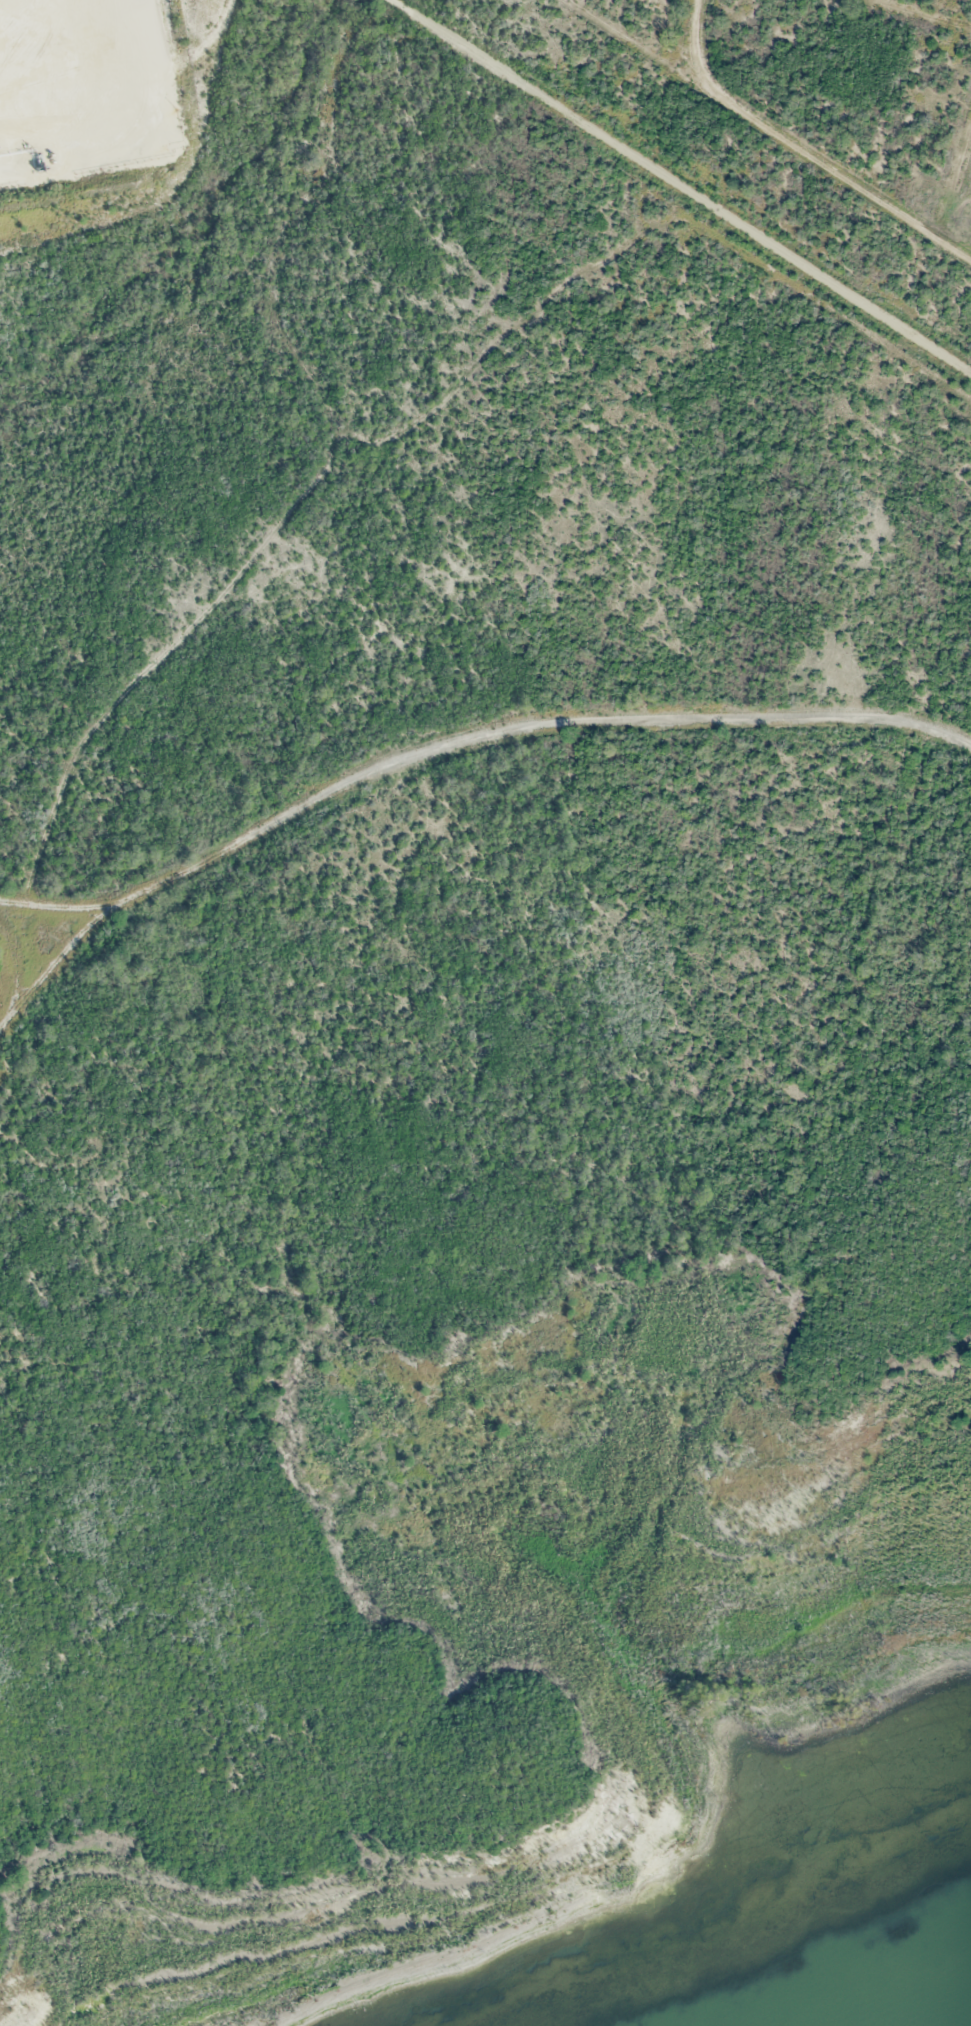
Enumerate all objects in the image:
road: (698, 175)
road: (469, 739)
road: (47, 969)

